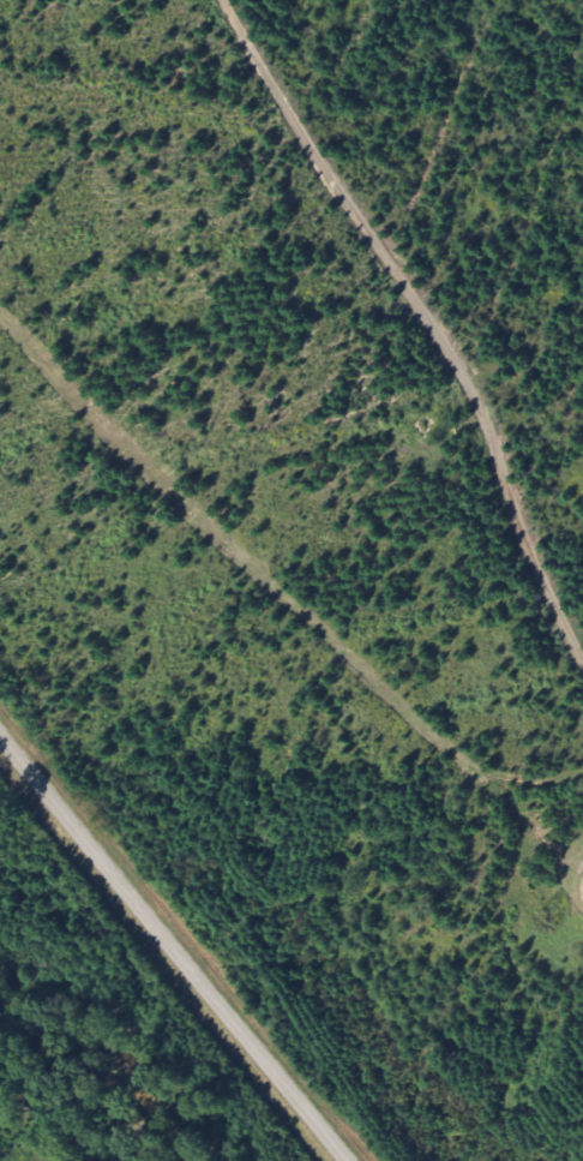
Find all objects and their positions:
road: (425, 317)
road: (173, 950)

